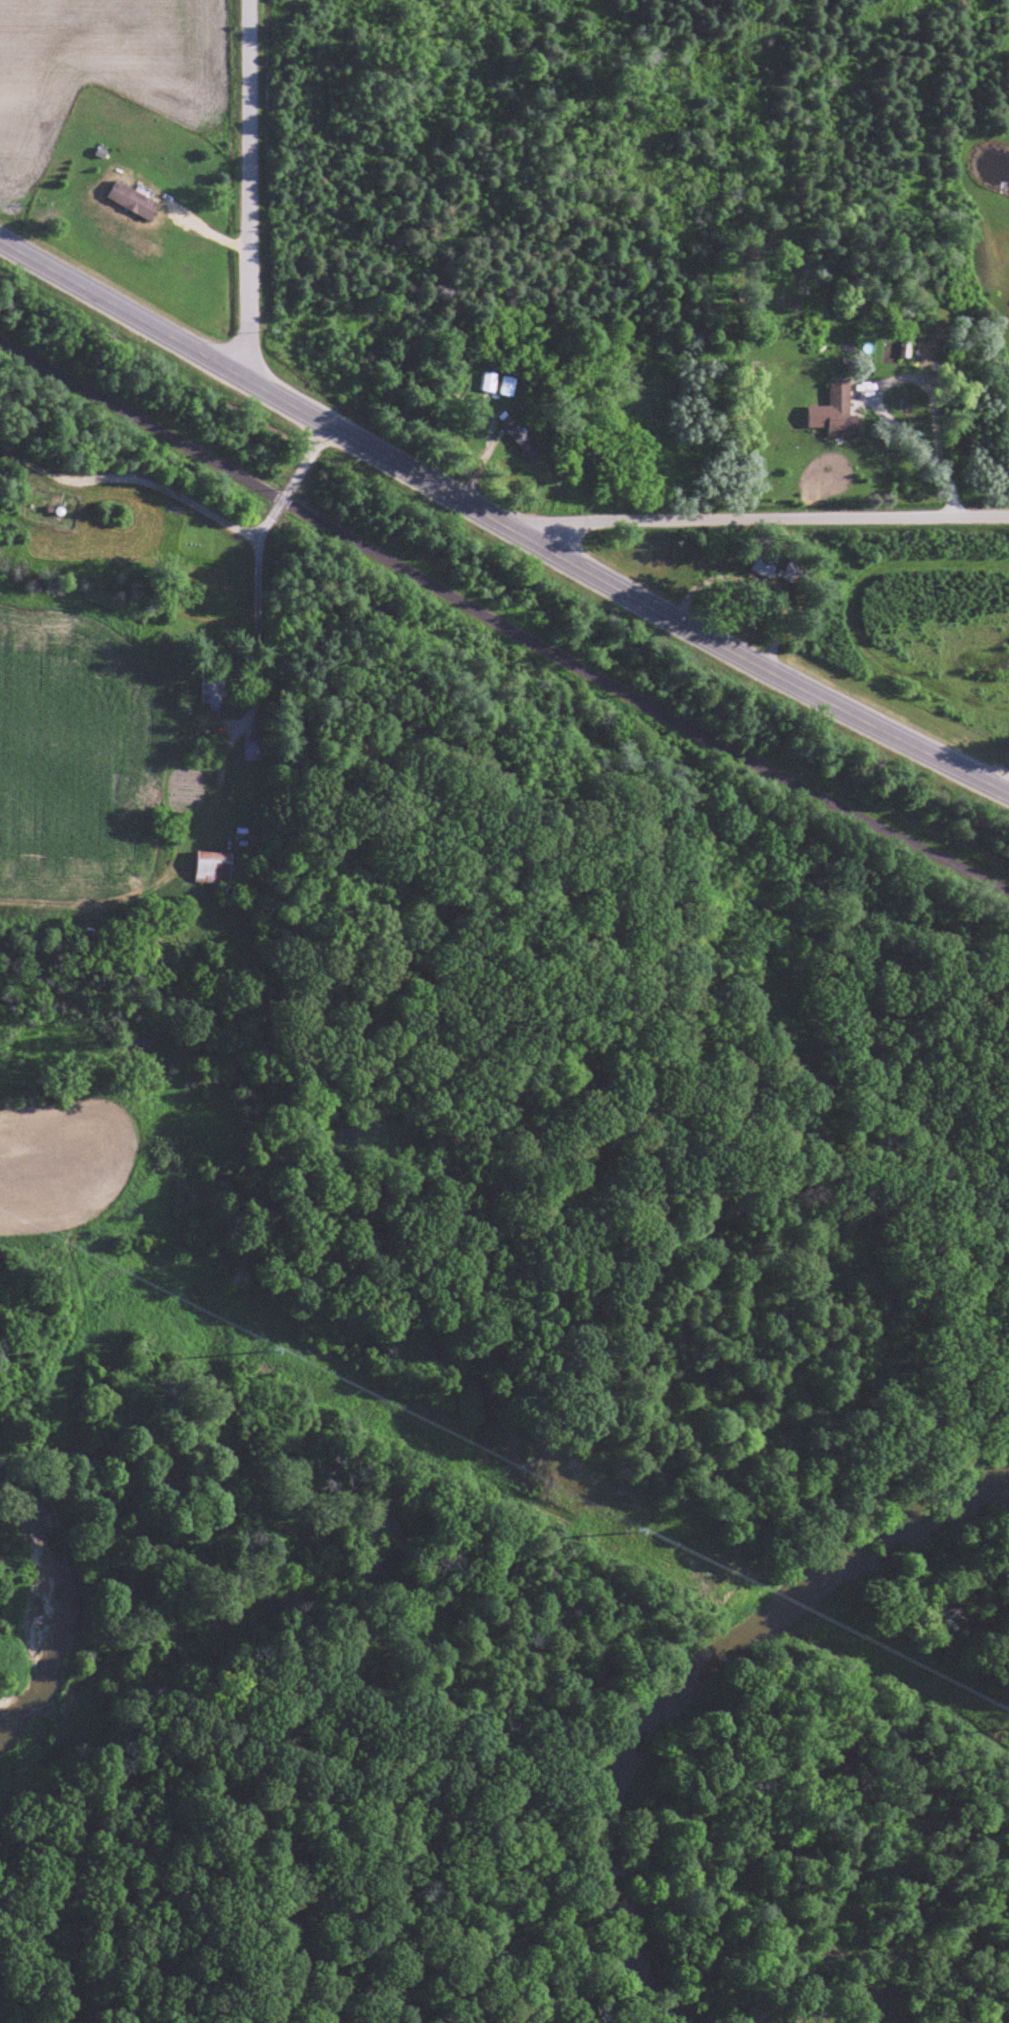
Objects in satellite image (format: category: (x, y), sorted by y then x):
road: (254, 193)
building: (133, 203)
building: (842, 413)
building: (522, 440)
building: (588, 463)
road: (129, 475)
road: (757, 522)
road: (502, 523)
building: (766, 566)
road: (501, 623)
road: (258, 688)
building: (214, 689)
building: (215, 869)
power tower: (266, 1346)
power tower: (631, 1526)
river: (51, 1618)
river: (712, 1695)

